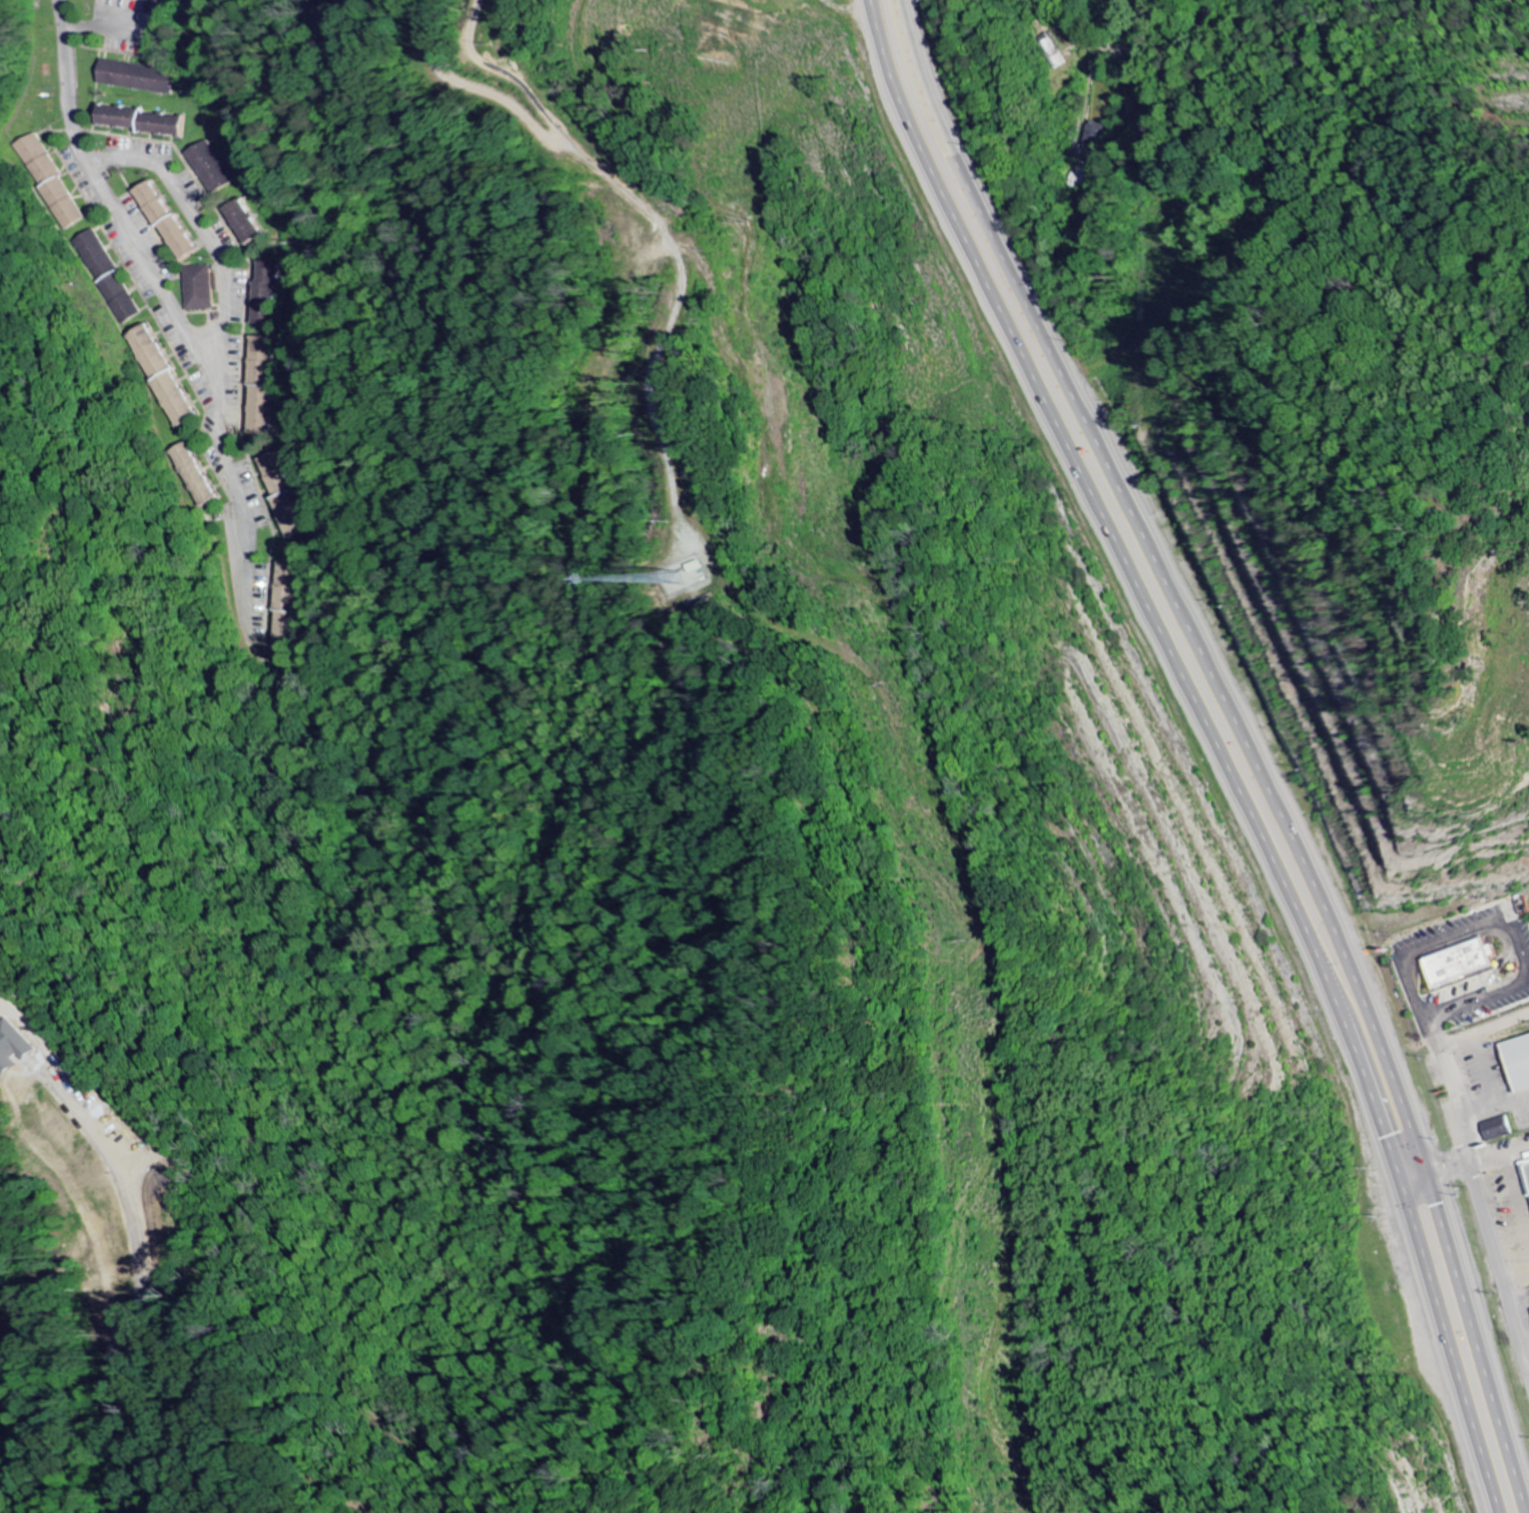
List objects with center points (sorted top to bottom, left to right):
building: (1051, 51)
road: (1115, 52)
building: (138, 77)
road: (68, 86)
railway: (1307, 100)
building: (147, 120)
building: (212, 168)
building: (53, 182)
power tower: (750, 220)
building: (173, 221)
road: (199, 223)
building: (247, 223)
road: (145, 257)
building: (108, 276)
building: (202, 288)
building: (267, 294)
building: (153, 352)
building: (262, 386)
road: (225, 448)
building: (198, 475)
building: (284, 496)
building: (289, 588)
power tower: (900, 679)
road: (1248, 740)
road: (1212, 744)
power tower: (977, 938)
building: (1461, 959)
building: (1518, 1060)
building: (1499, 1129)
building: (1526, 1170)
road: (1491, 1254)

